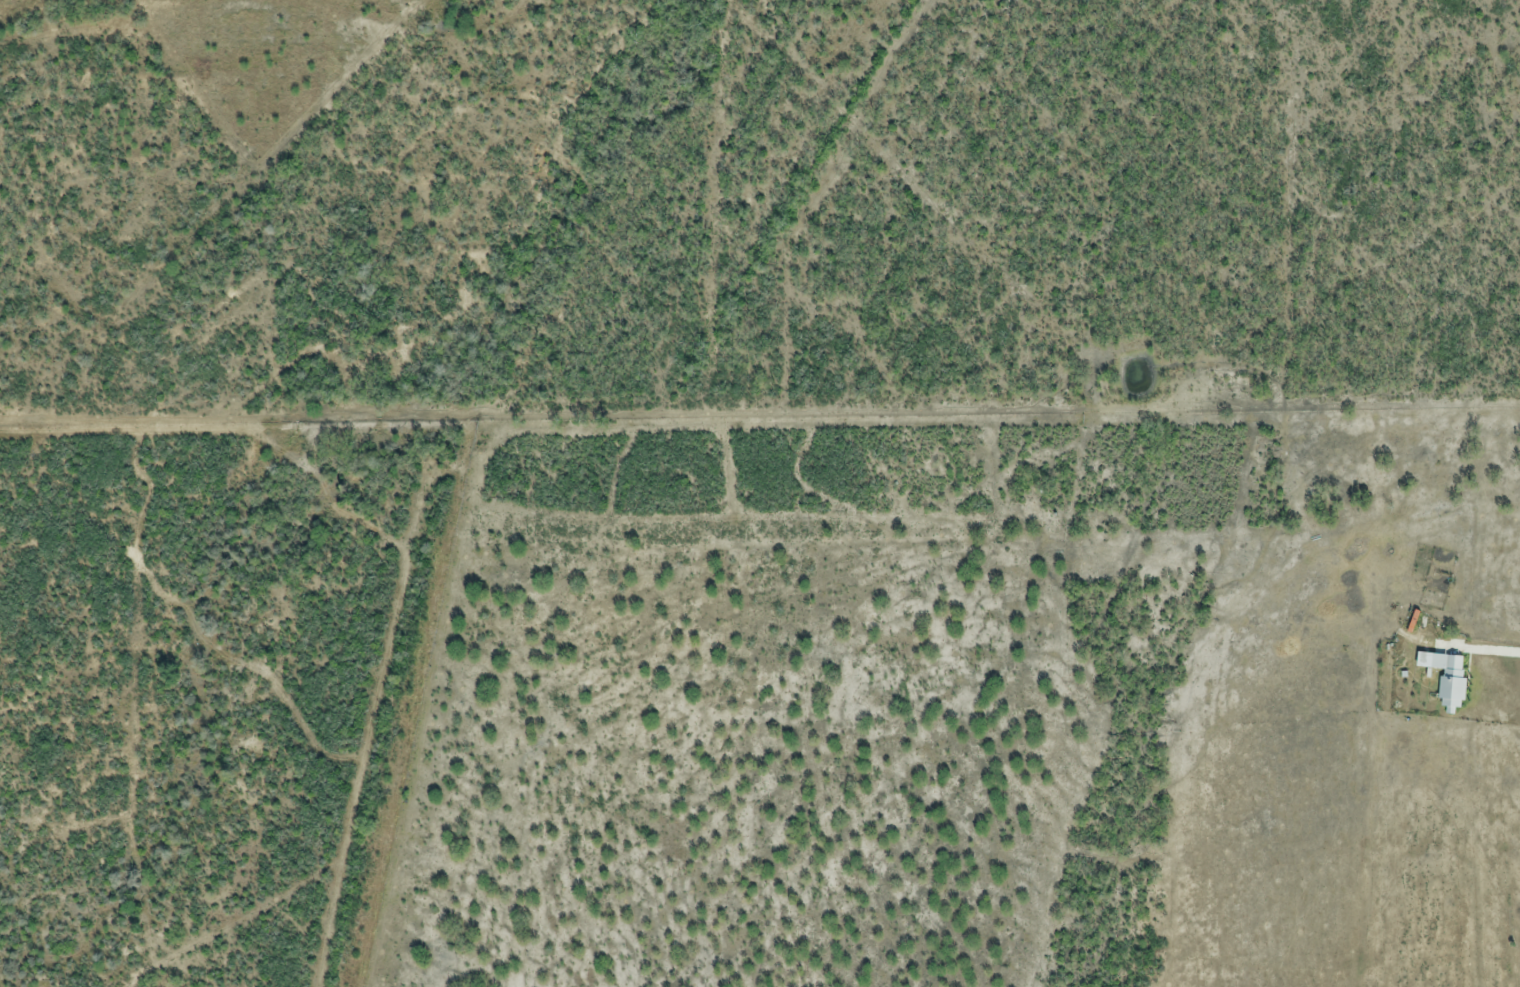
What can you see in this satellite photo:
road: (1493, 651)

